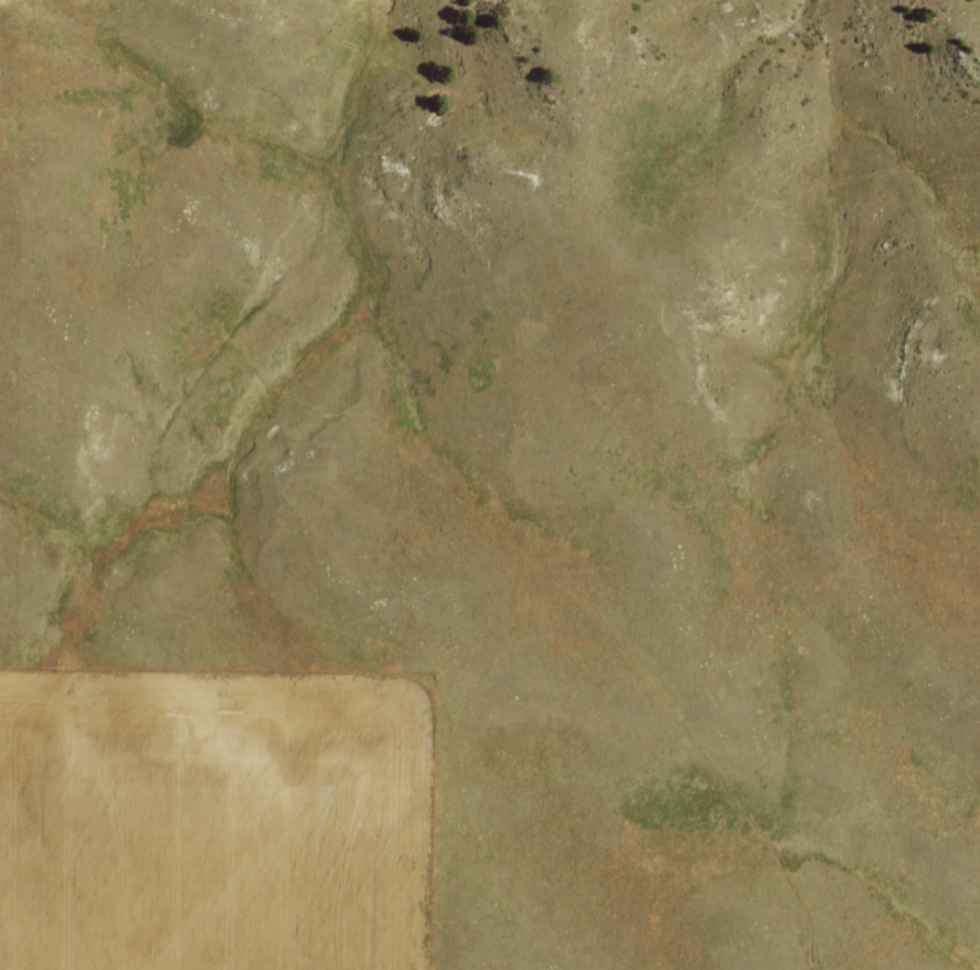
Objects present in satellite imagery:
crop: (215, 818)

